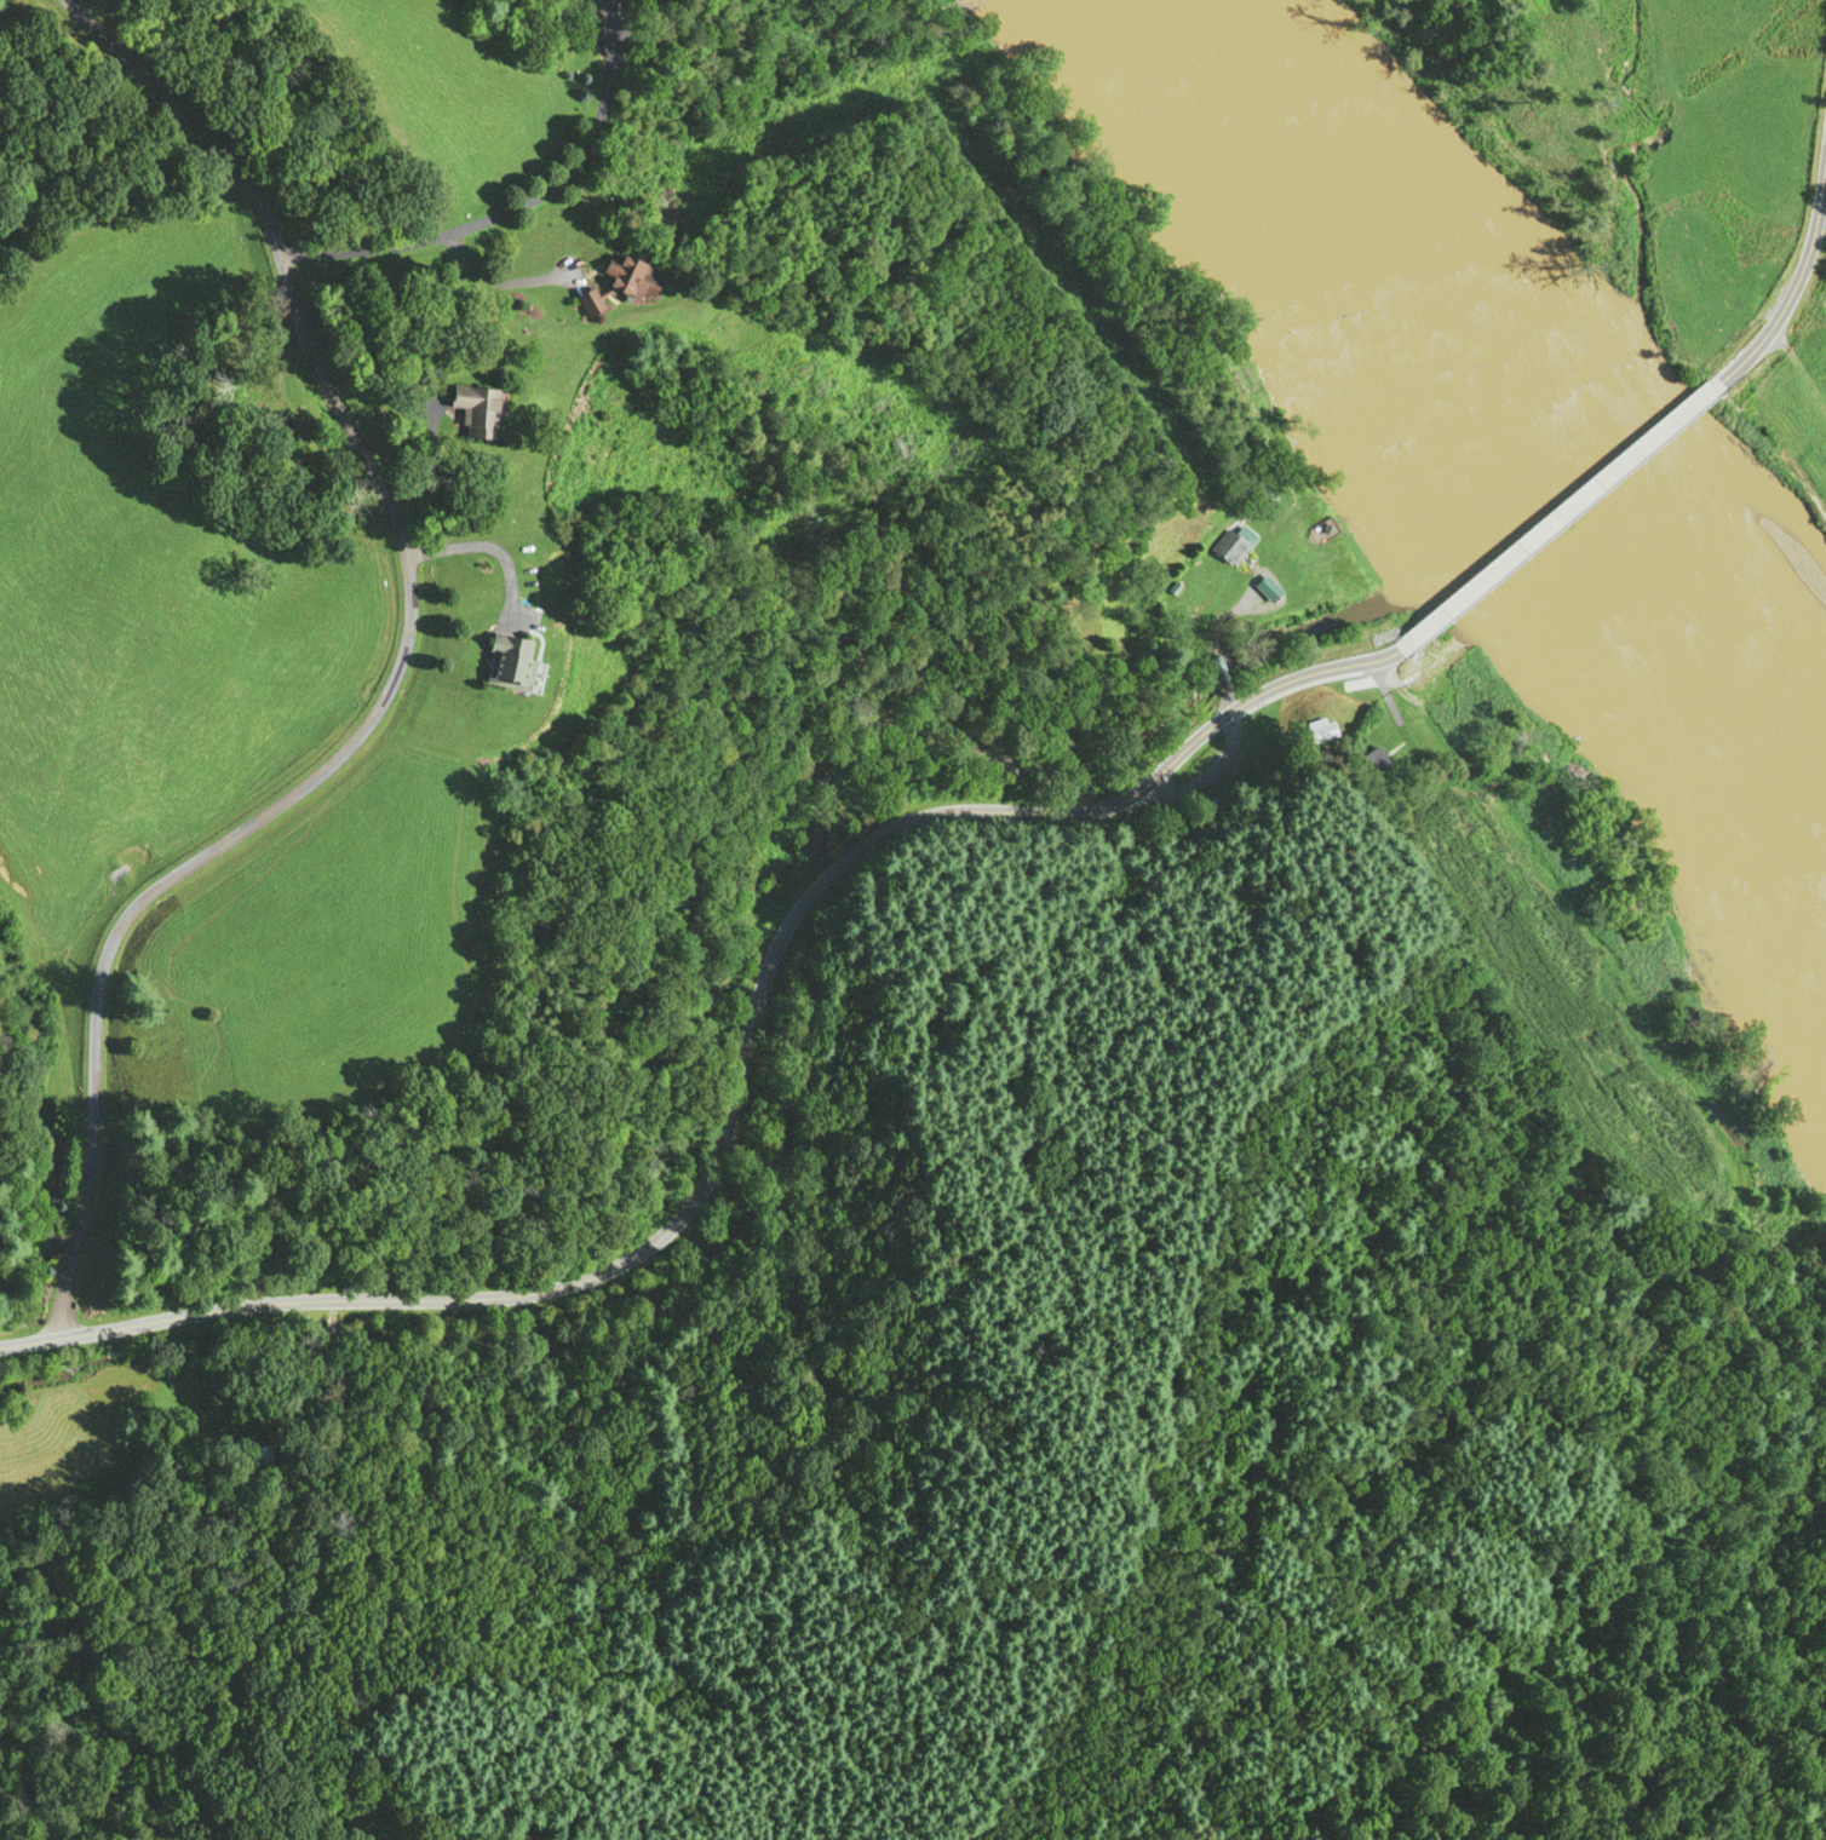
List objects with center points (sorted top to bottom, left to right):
river: (1279, 179)
road: (464, 223)
building: (632, 276)
road: (1799, 288)
building: (590, 300)
building: (478, 409)
river: (1454, 415)
road: (1581, 518)
building: (1231, 542)
building: (510, 660)
road: (385, 680)
building: (1344, 686)
river: (1676, 694)
building: (1321, 728)
building: (1371, 763)
road: (740, 1052)
building: (260, 1454)

